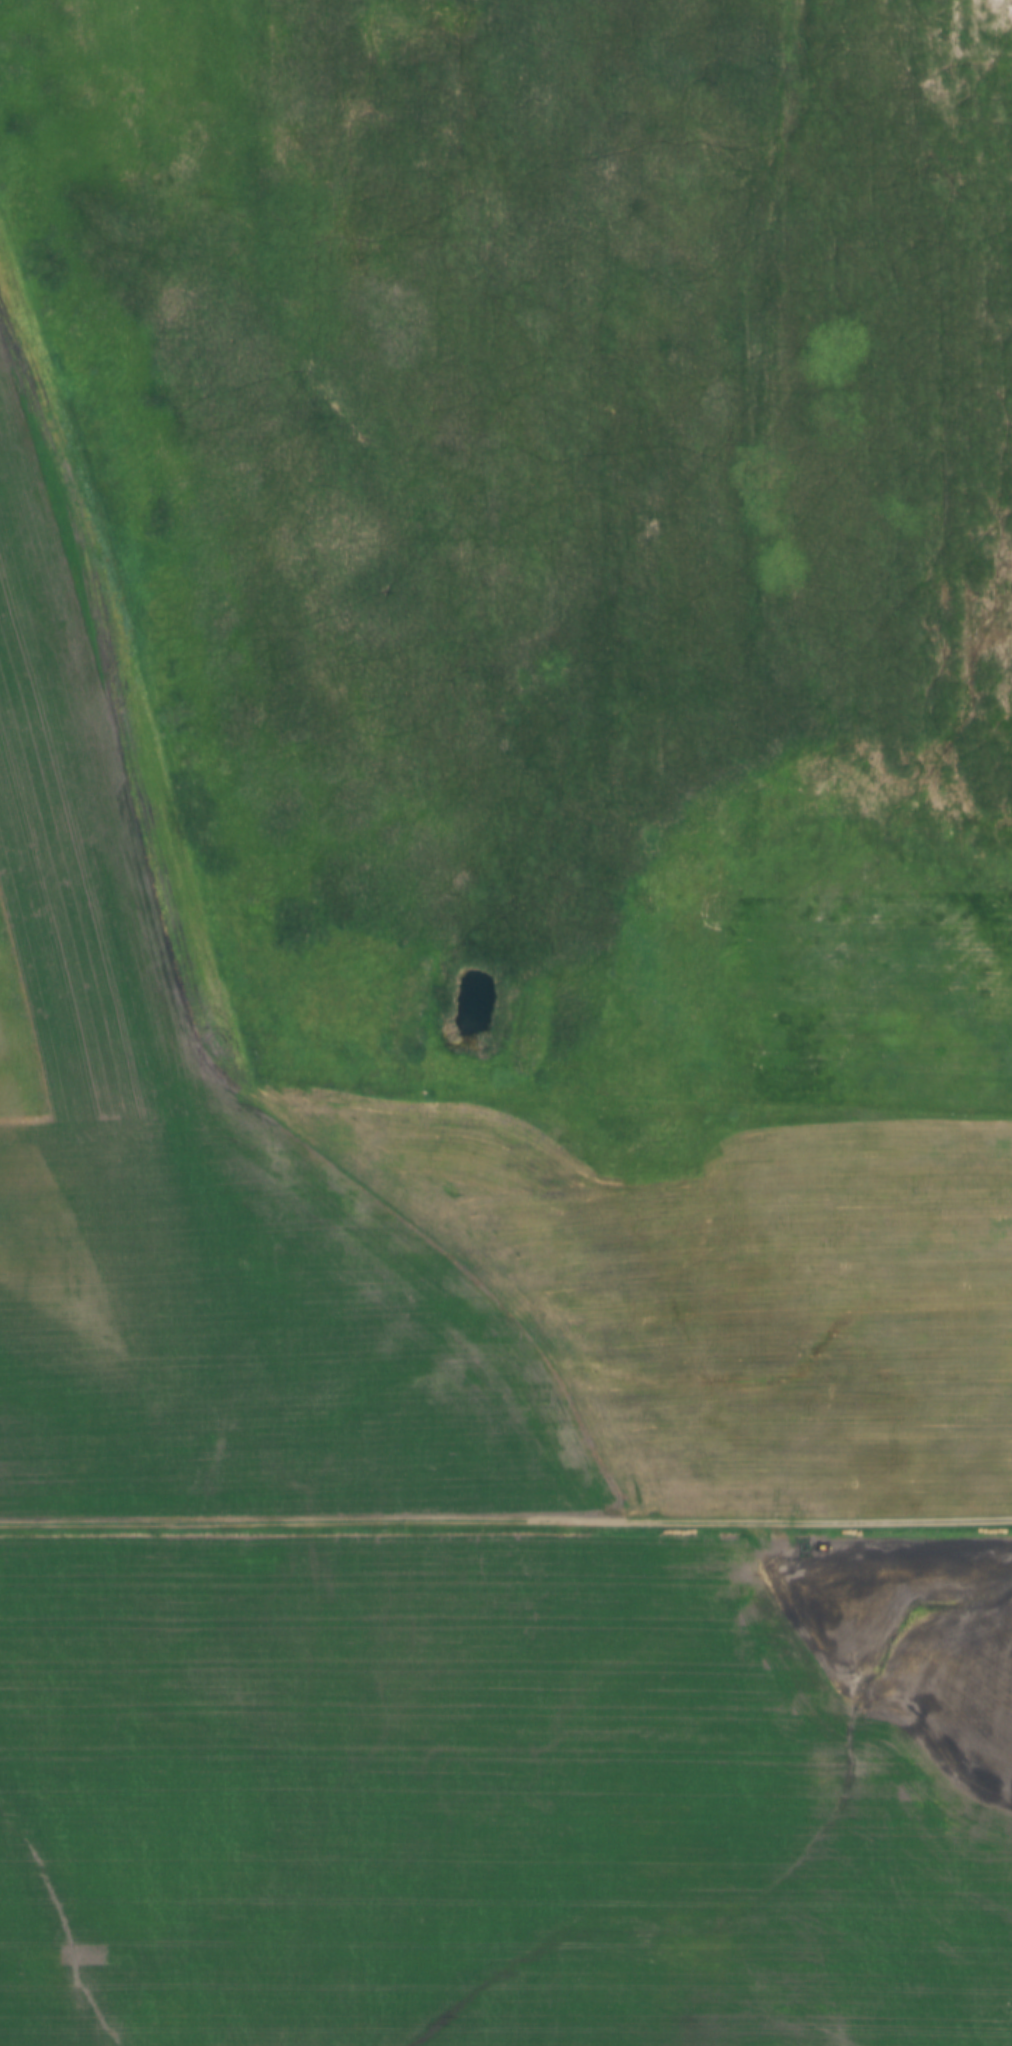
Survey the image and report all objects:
road: (505, 1518)

